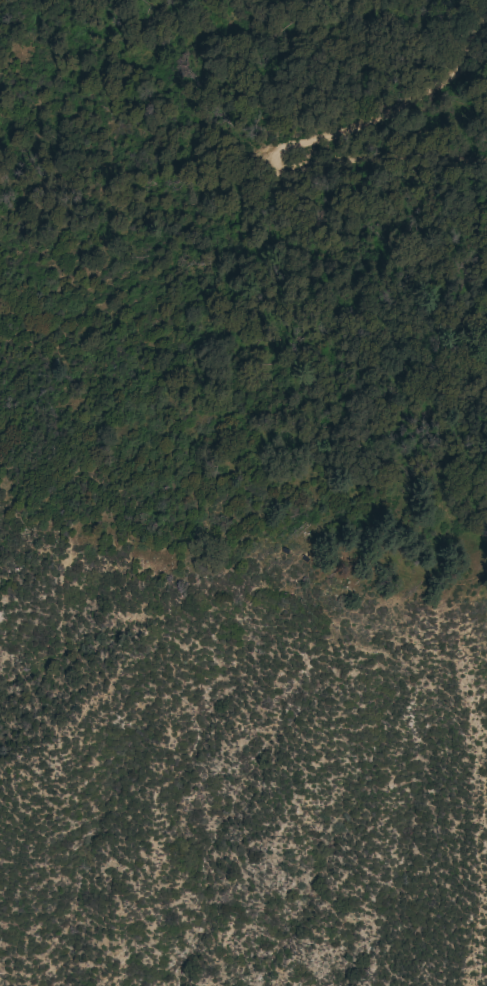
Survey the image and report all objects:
road: (280, 156)

